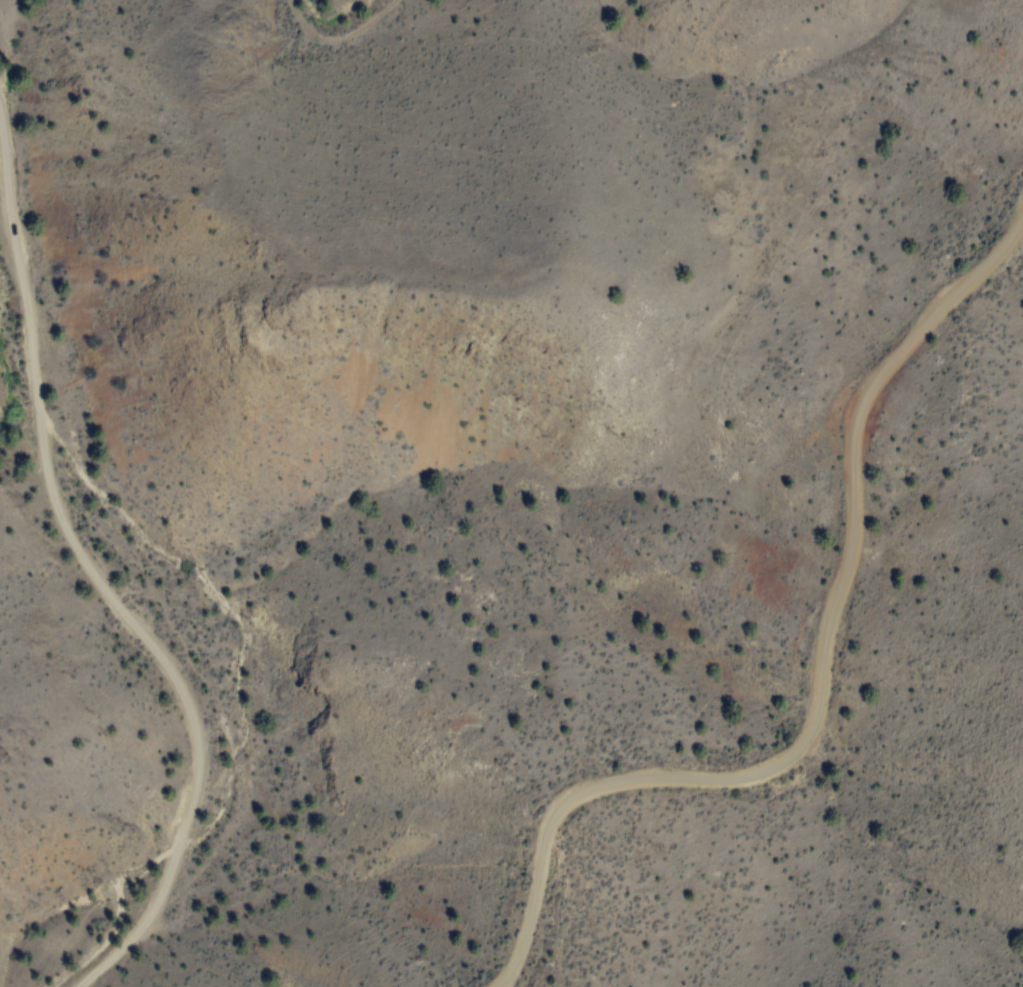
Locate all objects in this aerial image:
road: (101, 581)
road: (821, 676)

